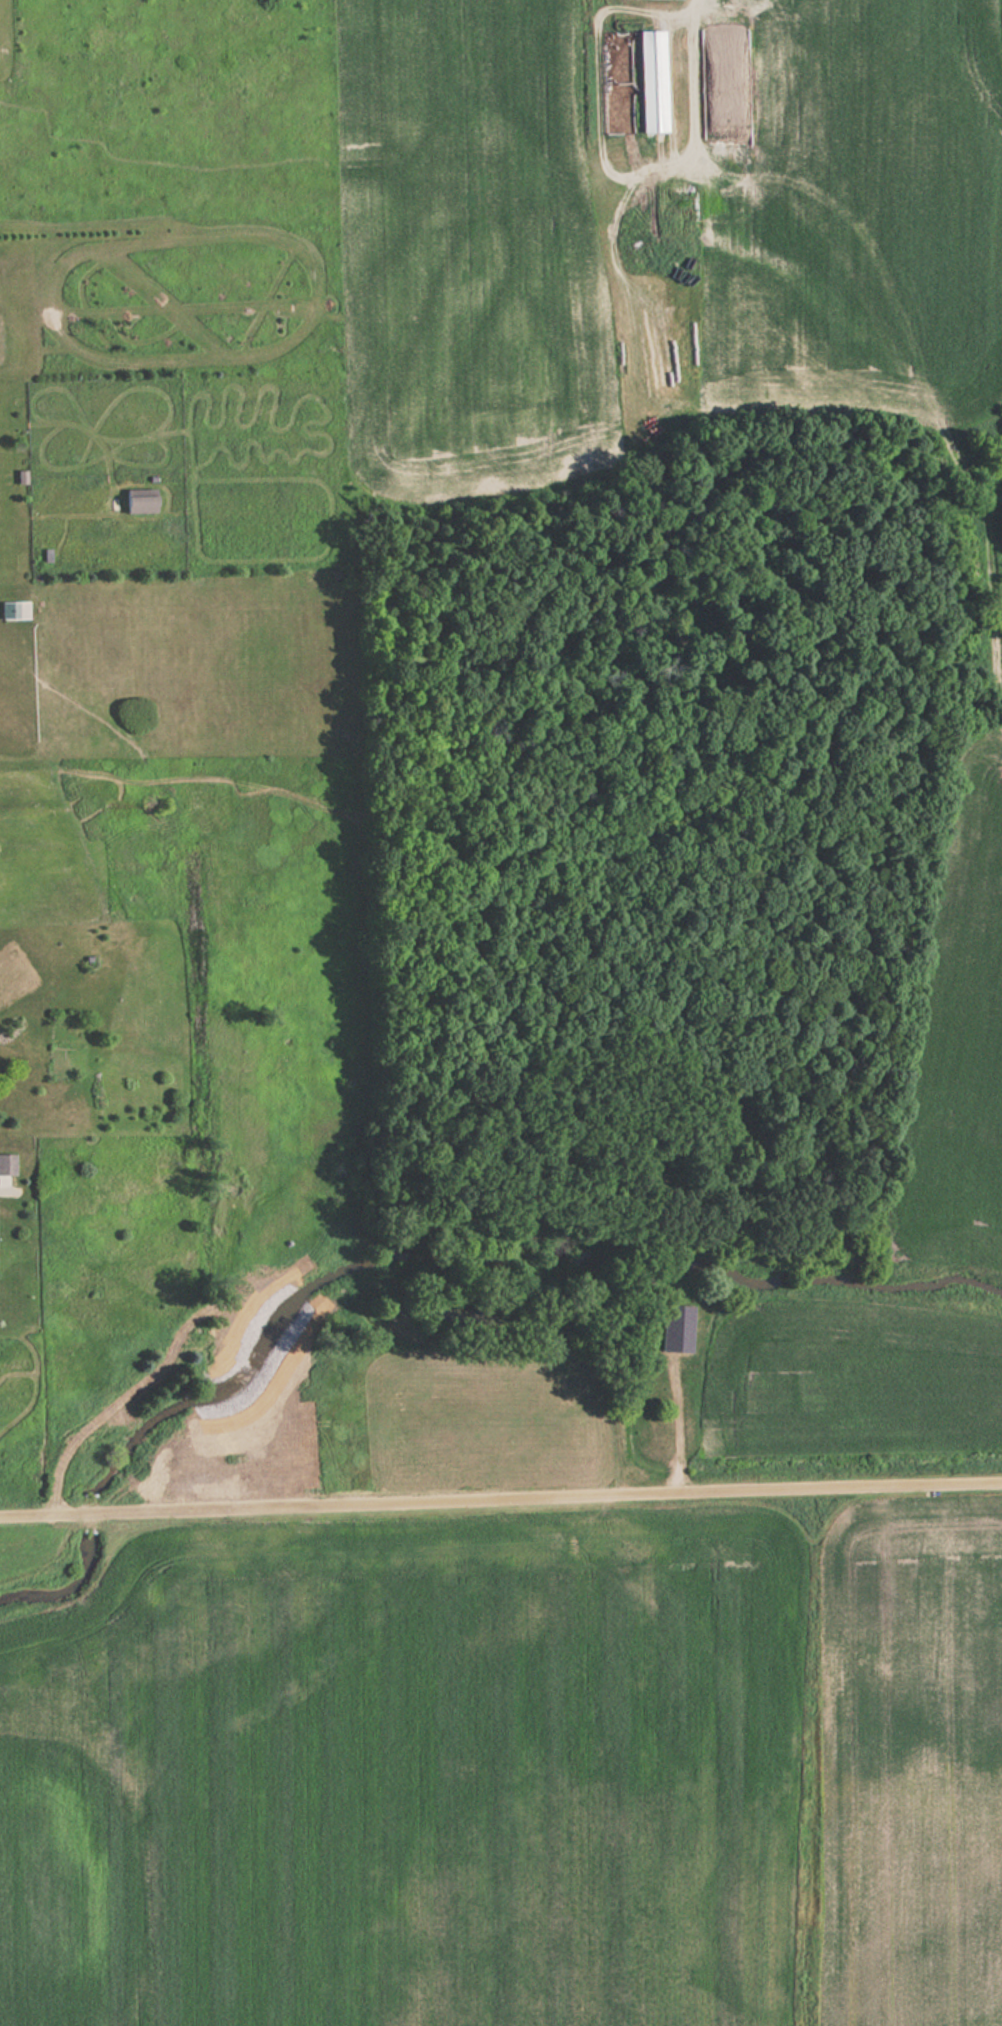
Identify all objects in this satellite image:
building: (653, 81)
building: (141, 501)
building: (11, 609)
building: (7, 1165)
building: (541, 1288)
building: (678, 1328)
road: (500, 1491)

